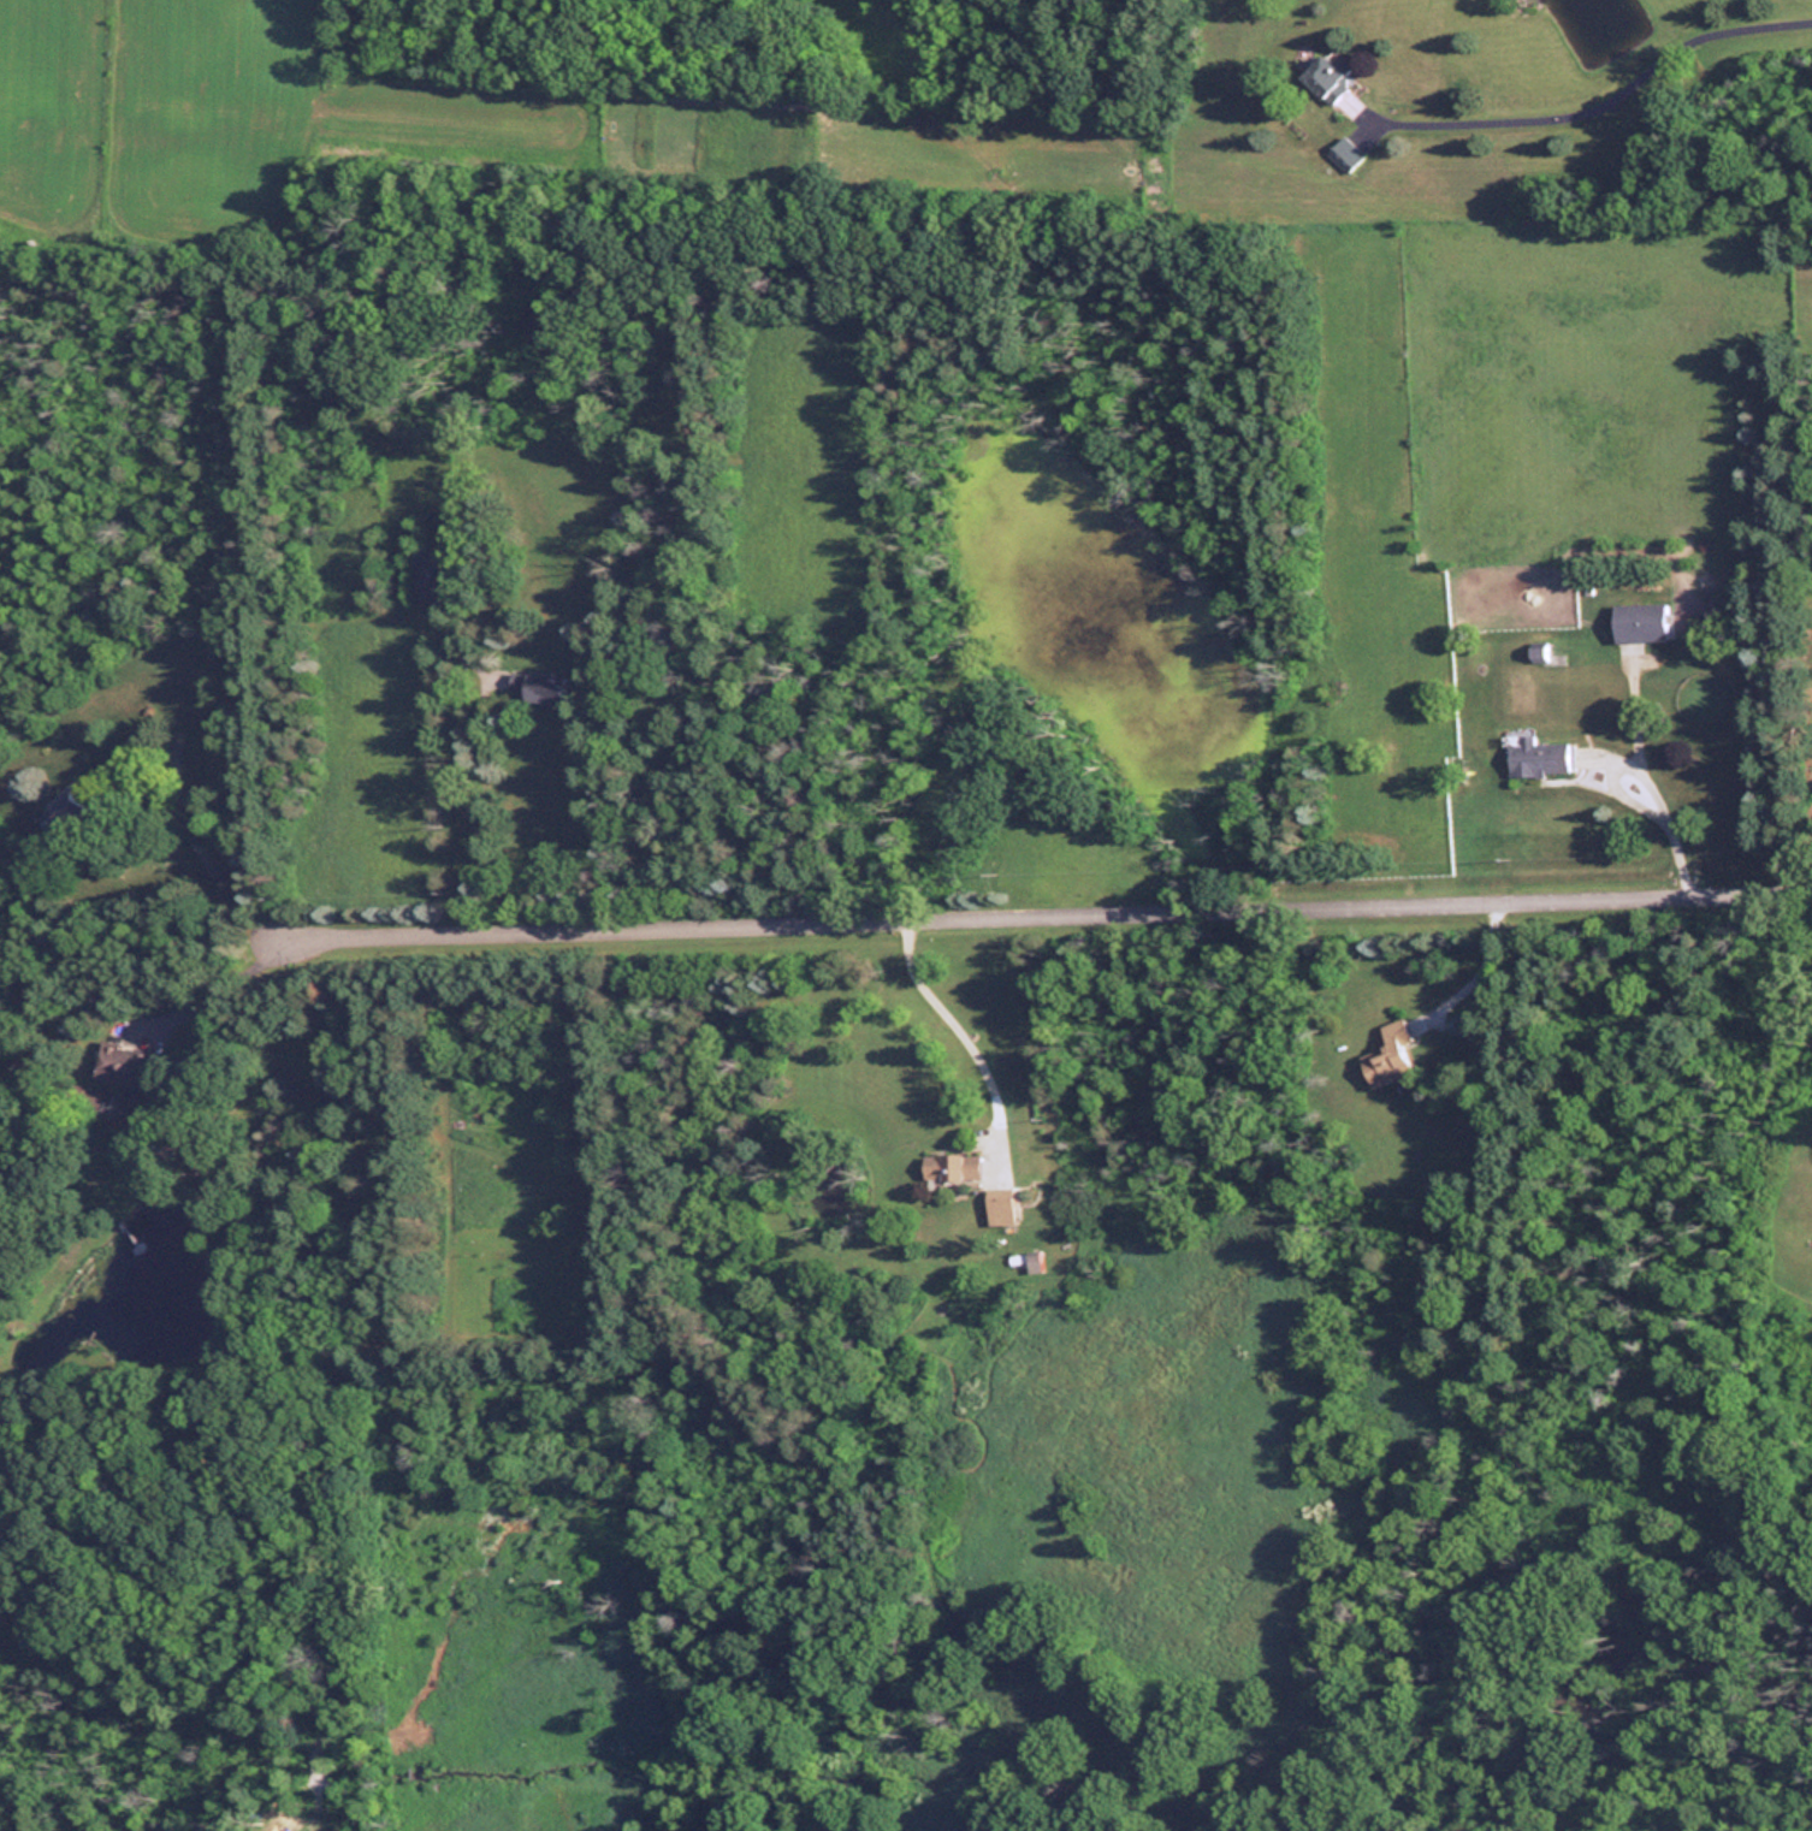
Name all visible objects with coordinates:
building: (1327, 70)
building: (430, 573)
building: (1638, 622)
building: (540, 687)
building: (1534, 757)
road: (193, 848)
road: (1035, 912)
road: (955, 1033)
building: (1386, 1055)
building: (123, 1065)
building: (100, 1101)
building: (948, 1165)
building: (1026, 1261)

